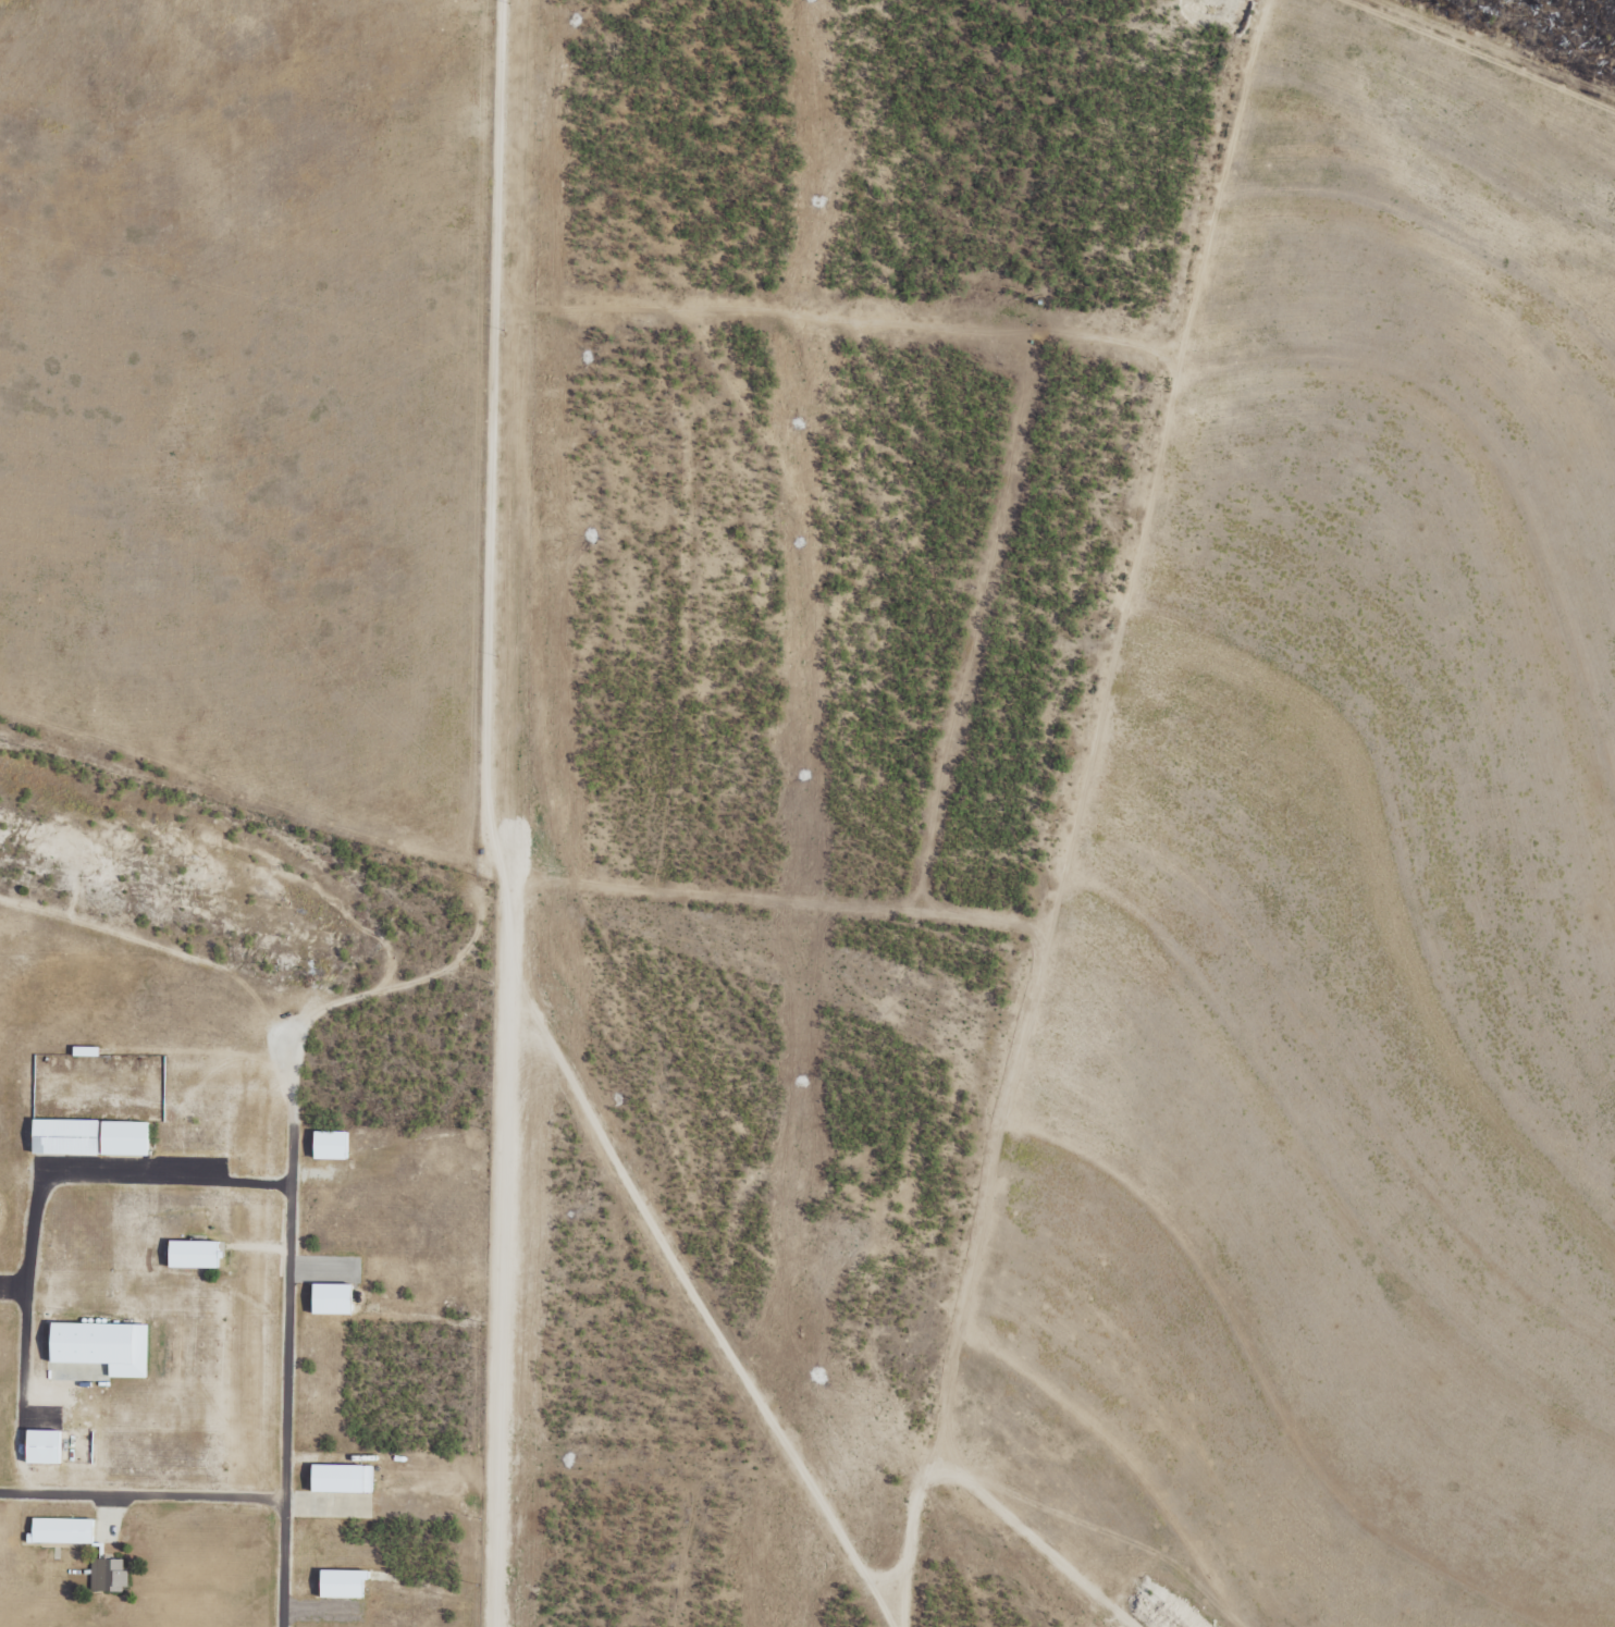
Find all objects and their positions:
road: (488, 529)
road: (241, 814)
road: (323, 1008)
airport hangar: (67, 1136)
building: (67, 1136)
airport hangar: (128, 1137)
building: (128, 1137)
airport hangar: (335, 1144)
building: (335, 1144)
airport: (236, 1211)
airport hangar: (197, 1254)
building: (197, 1254)
building: (331, 1299)
road: (285, 1333)
airport hangar: (102, 1346)
building: (102, 1346)
airport hangar: (46, 1445)
building: (46, 1445)
airport hangar: (344, 1478)
building: (344, 1478)
airport hangar: (62, 1528)
building: (62, 1528)
building: (108, 1576)
airport hangar: (345, 1581)
building: (345, 1581)

